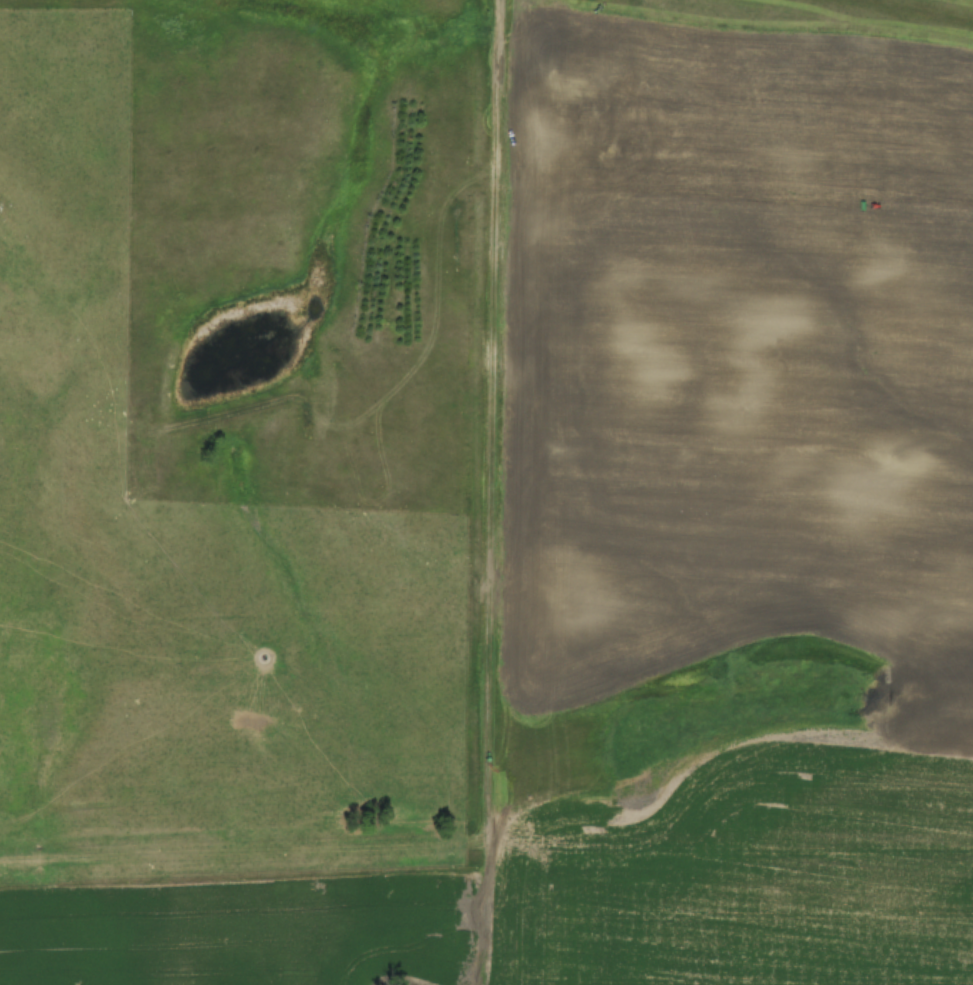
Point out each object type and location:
road: (493, 492)

